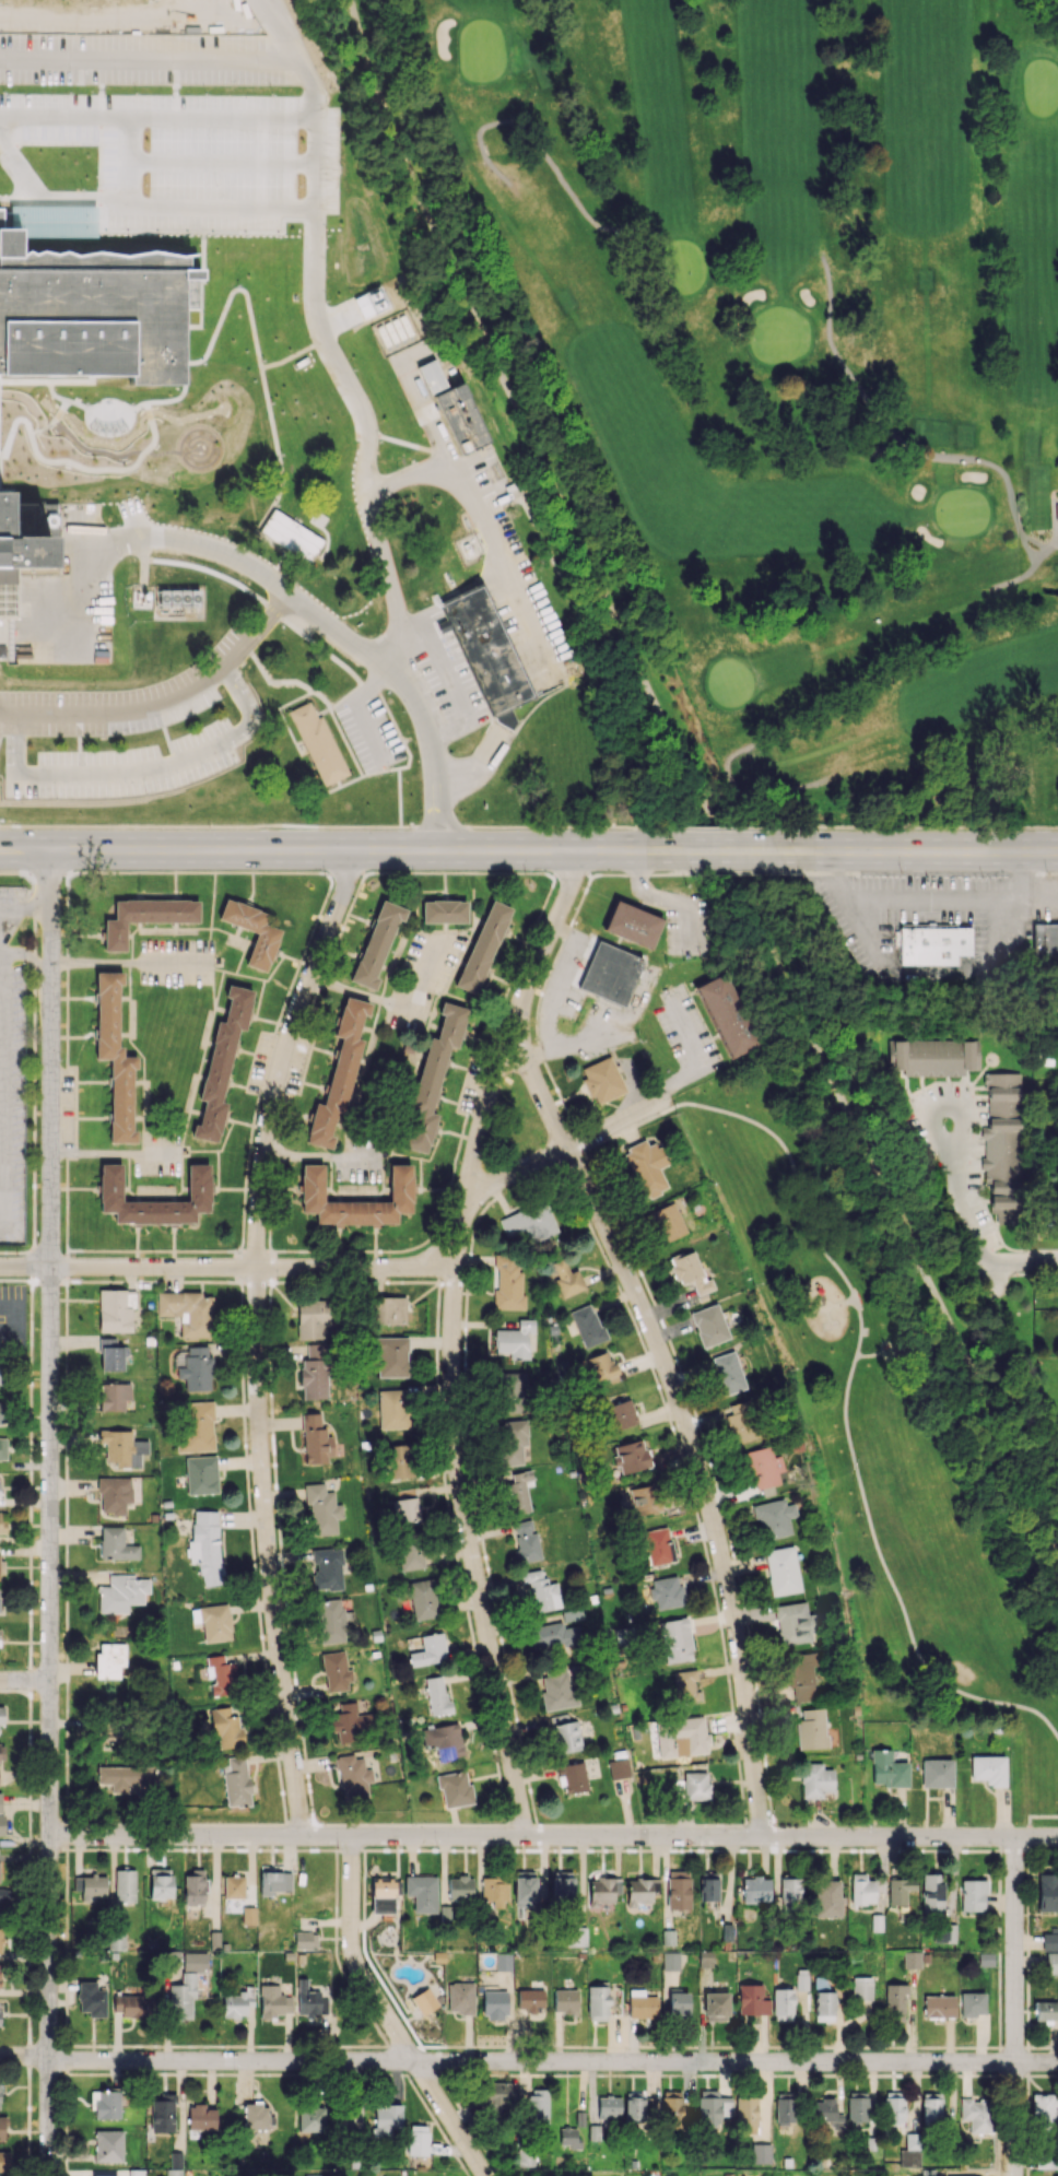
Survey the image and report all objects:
road: (134, 12)
parking lot: (144, 44)
park: (481, 50)
road: (150, 60)
road: (1, 62)
road: (306, 73)
park: (1041, 86)
road: (80, 87)
road: (176, 87)
street lamp: (87, 90)
street lamp: (184, 90)
street lamp: (281, 90)
road: (38, 116)
road: (196, 117)
road: (536, 144)
road: (183, 160)
road: (315, 181)
park: (682, 264)
park: (775, 332)
park: (790, 356)
road: (843, 367)
building: (434, 378)
road: (428, 409)
building: (465, 420)
building: (339, 447)
road: (997, 469)
road: (139, 506)
park: (961, 510)
building: (1057, 511)
road: (132, 531)
building: (290, 534)
building: (24, 541)
road: (87, 541)
road: (156, 541)
road: (1033, 542)
road: (378, 543)
road: (127, 548)
road: (143, 555)
road: (550, 556)
road: (499, 563)
road: (589, 564)
road: (1028, 572)
road: (216, 575)
parking lot: (519, 593)
road: (86, 598)
building: (179, 599)
street lamp: (230, 621)
road: (327, 622)
street lamp: (436, 627)
street lamp: (377, 632)
road: (319, 647)
building: (490, 655)
road: (83, 658)
street lamp: (171, 671)
road: (291, 681)
road: (449, 681)
park: (731, 681)
street lamp: (21, 685)
street lamp: (94, 685)
parking lot: (452, 686)
road: (345, 695)
road: (321, 696)
parking lot: (122, 701)
road: (166, 703)
road: (360, 709)
street lamp: (401, 710)
road: (281, 713)
street lamp: (327, 713)
road: (393, 722)
parking lot: (368, 730)
road: (345, 740)
road: (16, 744)
building: (320, 746)
road: (386, 763)
road: (166, 764)
street lamp: (233, 764)
road: (380, 768)
road: (480, 769)
street lamp: (388, 773)
road: (737, 789)
road: (334, 790)
street lamp: (144, 795)
road: (399, 796)
street lamp: (55, 798)
road: (439, 816)
road: (199, 825)
road: (420, 825)
road: (542, 825)
road: (709, 826)
road: (917, 826)
street lamp: (209, 828)
street lamp: (408, 830)
street lamp: (587, 831)
street lamp: (791, 831)
road: (25, 842)
road: (348, 848)
road: (718, 849)
road: (924, 850)
road: (25, 855)
street lamp: (97, 869)
street lamp: (901, 872)
street lamp: (522, 873)
street lamp: (324, 874)
street lamp: (691, 874)
road: (1038, 894)
road: (953, 895)
road: (24, 907)
building: (444, 911)
road: (50, 914)
building: (145, 916)
parking lot: (926, 921)
building: (632, 924)
building: (251, 931)
building: (1045, 940)
building: (376, 943)
building: (931, 944)
building: (482, 946)
road: (1, 950)
road: (31, 955)
parking lot: (175, 960)
road: (131, 961)
building: (610, 973)
road: (906, 974)
parking lot: (423, 976)
road: (421, 978)
road: (360, 991)
building: (726, 1015)
road: (504, 1050)
road: (283, 1052)
building: (114, 1056)
building: (934, 1057)
building: (221, 1060)
parking lot: (262, 1061)
building: (11, 1073)
parking lot: (11, 1073)
building: (338, 1074)
building: (432, 1079)
building: (601, 1080)
road: (2, 1086)
road: (539, 1089)
parking lot: (67, 1111)
road: (50, 1121)
road: (588, 1136)
road: (959, 1142)
building: (1001, 1143)
road: (113, 1153)
parking lot: (157, 1154)
road: (318, 1154)
parking lot: (358, 1156)
building: (646, 1167)
building: (198, 1183)
building: (400, 1184)
building: (667, 1221)
building: (528, 1224)
road: (1034, 1259)
road: (226, 1266)
building: (690, 1271)
building: (566, 1278)
building: (508, 1282)
road: (973, 1297)
building: (388, 1309)
building: (115, 1310)
building: (188, 1312)
building: (311, 1318)
building: (587, 1325)
building: (709, 1325)
road: (955, 1337)
building: (515, 1339)
building: (316, 1350)
building: (111, 1355)
building: (390, 1355)
road: (869, 1355)
road: (854, 1365)
building: (602, 1367)
building: (196, 1368)
building: (727, 1373)
building: (0, 1374)
building: (314, 1378)
building: (512, 1392)
park: (895, 1395)
building: (114, 1396)
building: (392, 1409)
building: (1, 1413)
building: (622, 1413)
building: (740, 1422)
building: (196, 1426)
building: (315, 1439)
building: (512, 1440)
building: (122, 1447)
building: (2, 1448)
building: (631, 1456)
building: (399, 1460)
building: (763, 1467)
building: (201, 1474)
road: (702, 1480)
building: (518, 1491)
building: (114, 1494)
building: (645, 1499)
building: (321, 1509)
building: (405, 1509)
building: (774, 1518)
building: (1, 1521)
building: (526, 1541)
building: (116, 1544)
building: (205, 1544)
building: (658, 1545)
road: (471, 1549)
road: (268, 1551)
building: (410, 1551)
building: (1, 1566)
building: (327, 1568)
building: (781, 1571)
building: (541, 1590)
building: (121, 1592)
building: (667, 1592)
building: (423, 1598)
building: (330, 1621)
building: (213, 1622)
building: (794, 1623)
building: (553, 1636)
building: (675, 1640)
building: (428, 1650)
building: (109, 1659)
building: (336, 1671)
building: (221, 1674)
building: (800, 1675)
road: (25, 1680)
building: (685, 1685)
building: (436, 1695)
building: (1, 1714)
road: (50, 1720)
building: (346, 1721)
building: (225, 1728)
building: (811, 1730)
building: (567, 1737)
building: (682, 1738)
building: (447, 1741)
building: (1, 1752)
building: (618, 1768)
building: (889, 1769)
building: (989, 1769)
building: (937, 1773)
building: (124, 1776)
building: (352, 1777)
building: (572, 1777)
building: (815, 1779)
building: (236, 1781)
building: (695, 1785)
building: (455, 1789)
building: (0, 1802)
road: (1033, 1816)
building: (1, 1824)
road: (554, 1835)
building: (273, 1881)
building: (161, 1883)
building: (562, 1884)
building: (125, 1885)
building: (91, 1886)
building: (708, 1886)
building: (193, 1887)
building: (460, 1887)
building: (678, 1889)
building: (755, 1889)
building: (789, 1889)
building: (603, 1890)
building: (640, 1890)
building: (861, 1890)
building: (900, 1890)
building: (234, 1891)
building: (494, 1891)
building: (524, 1891)
building: (1047, 1892)
building: (381, 1893)
building: (422, 1893)
building: (931, 1893)
building: (4, 1894)
building: (972, 1895)
building: (827, 1898)
building: (248, 1915)
building: (944, 1933)
building: (575, 1937)
building: (0, 1940)
building: (117, 1940)
building: (305, 1940)
building: (1049, 1941)
building: (705, 1959)
building: (912, 1960)
building: (195, 1961)
building: (670, 1961)
building: (503, 1962)
building: (1051, 1963)
building: (861, 1988)
building: (181, 1997)
building: (460, 1998)
building: (91, 1999)
building: (530, 1999)
building: (309, 2000)
building: (565, 2000)
building: (752, 2000)
building: (273, 2001)
building: (597, 2002)
building: (894, 2002)
building: (237, 2003)
building: (783, 2003)
building: (972, 2003)
building: (132, 2004)
building: (494, 2004)
building: (642, 2004)
building: (678, 2004)
building: (716, 2006)
building: (824, 2006)
building: (938, 2006)
road: (1014, 2006)
building: (1046, 2011)
road: (387, 2014)
road: (528, 2061)
building: (498, 2095)
building: (105, 2104)
building: (0, 2105)
building: (608, 2106)
building: (537, 2107)
building: (634, 2107)
building: (712, 2107)
building: (857, 2107)
building: (893, 2107)
building: (931, 2107)
building: (785, 2108)
building: (671, 2109)
building: (1043, 2109)
building: (163, 2113)
building: (826, 2113)
building: (745, 2115)
building: (976, 2115)
building: (256, 2116)
building: (201, 2117)
building: (348, 2117)
building: (311, 2118)
building: (386, 2119)
building: (2, 2128)
building: (569, 2137)
building: (418, 2140)
building: (108, 2145)
building: (909, 2148)
building: (760, 2153)
building: (526, 2157)
building: (4, 2161)
building: (1046, 2162)
building: (174, 2172)
building: (103, 2175)
building: (313, 2175)
building: (952, 2175)

